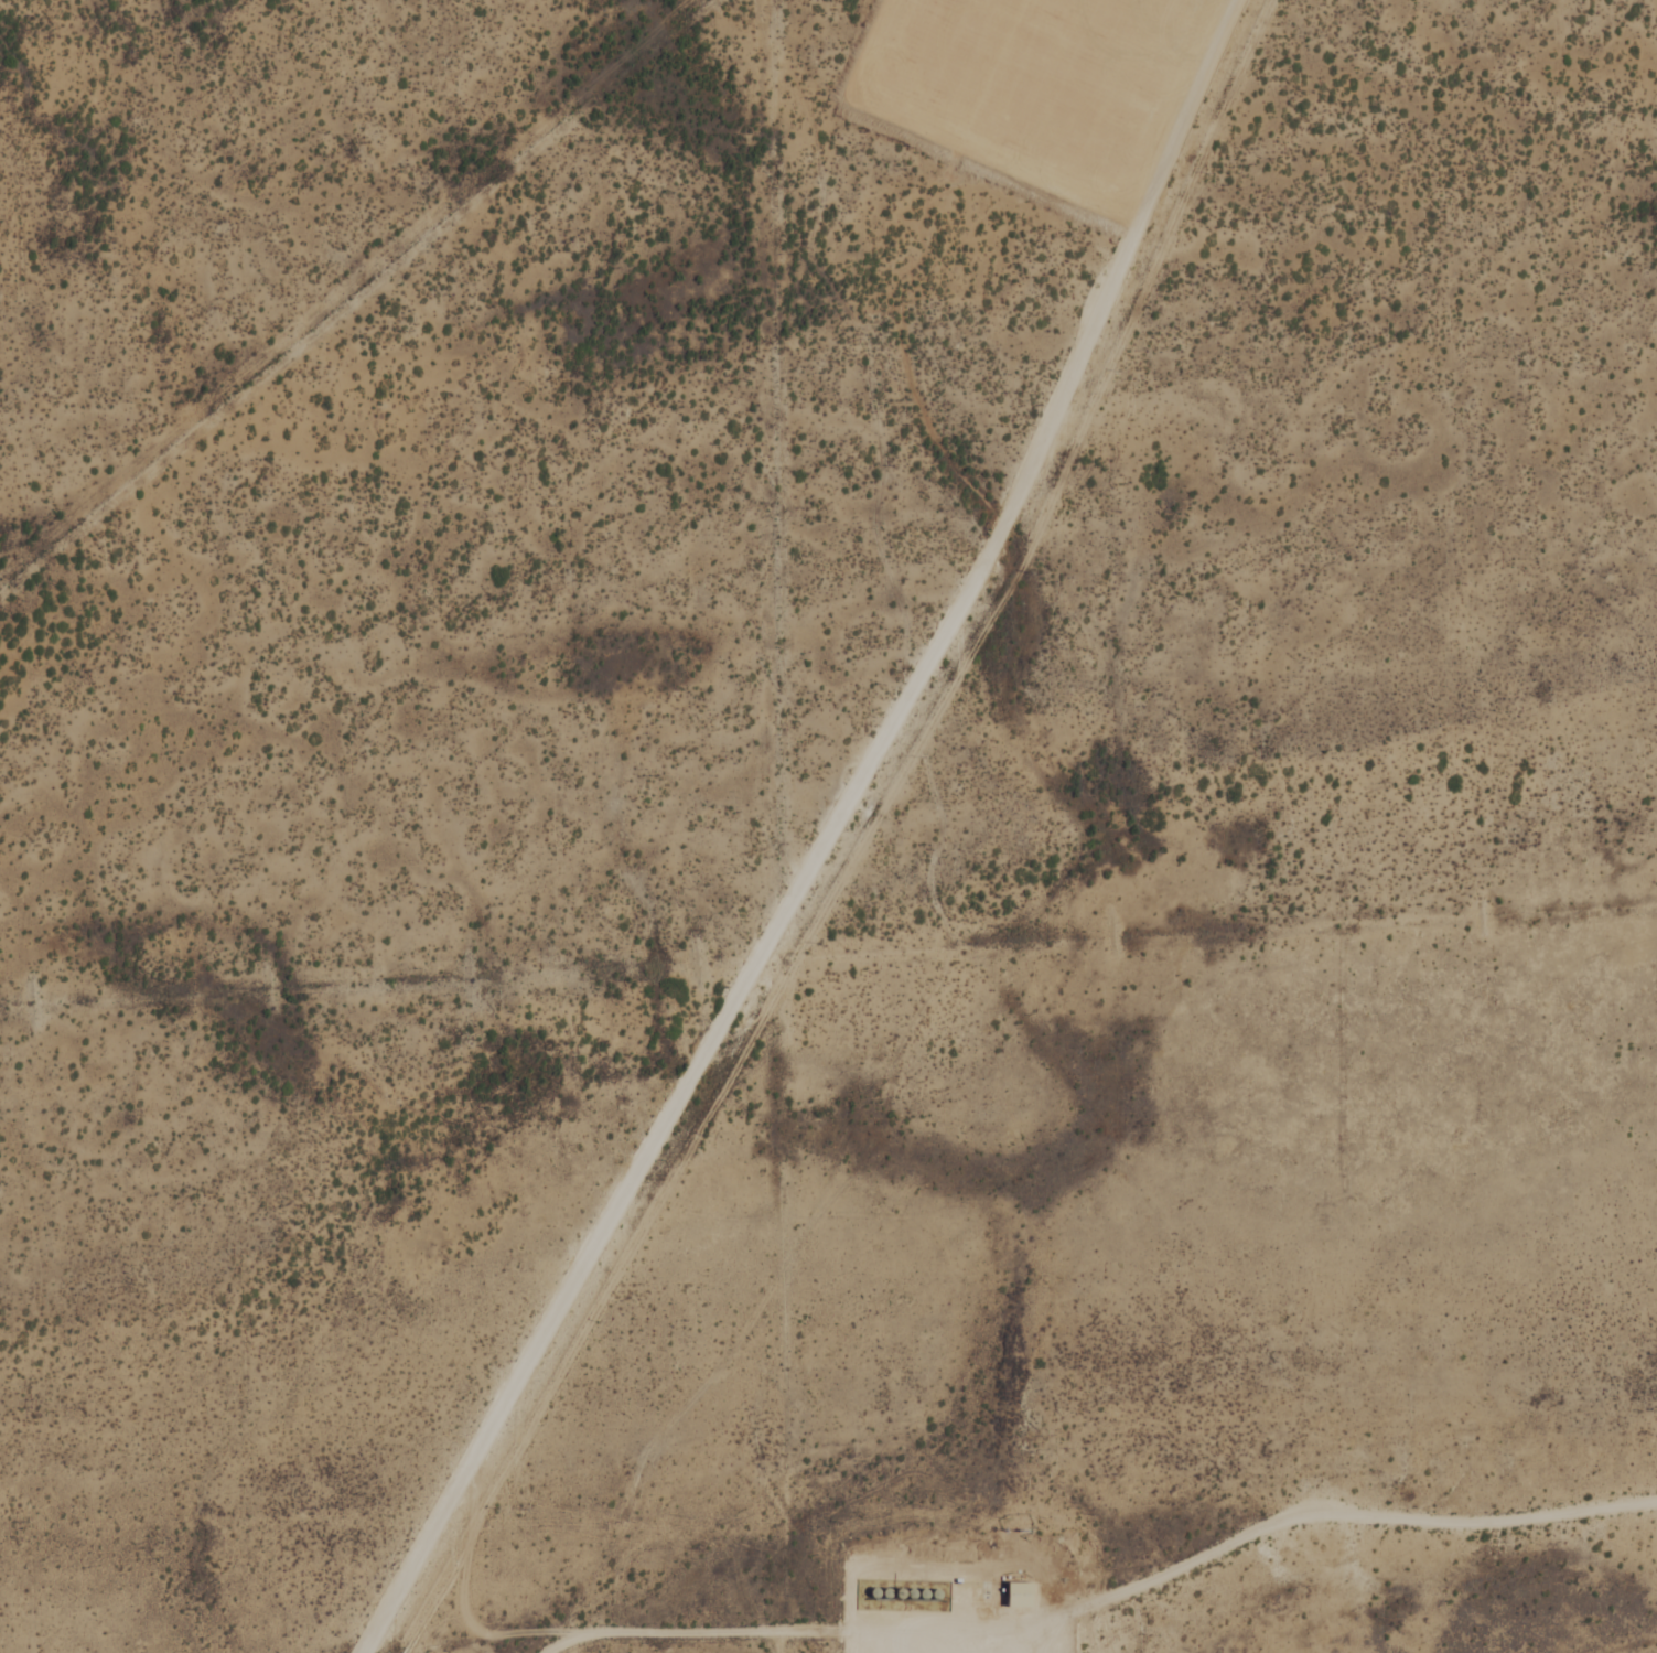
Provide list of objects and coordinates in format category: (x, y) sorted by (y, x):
road: (849, 1558)
road: (1107, 1597)
road: (782, 1641)

